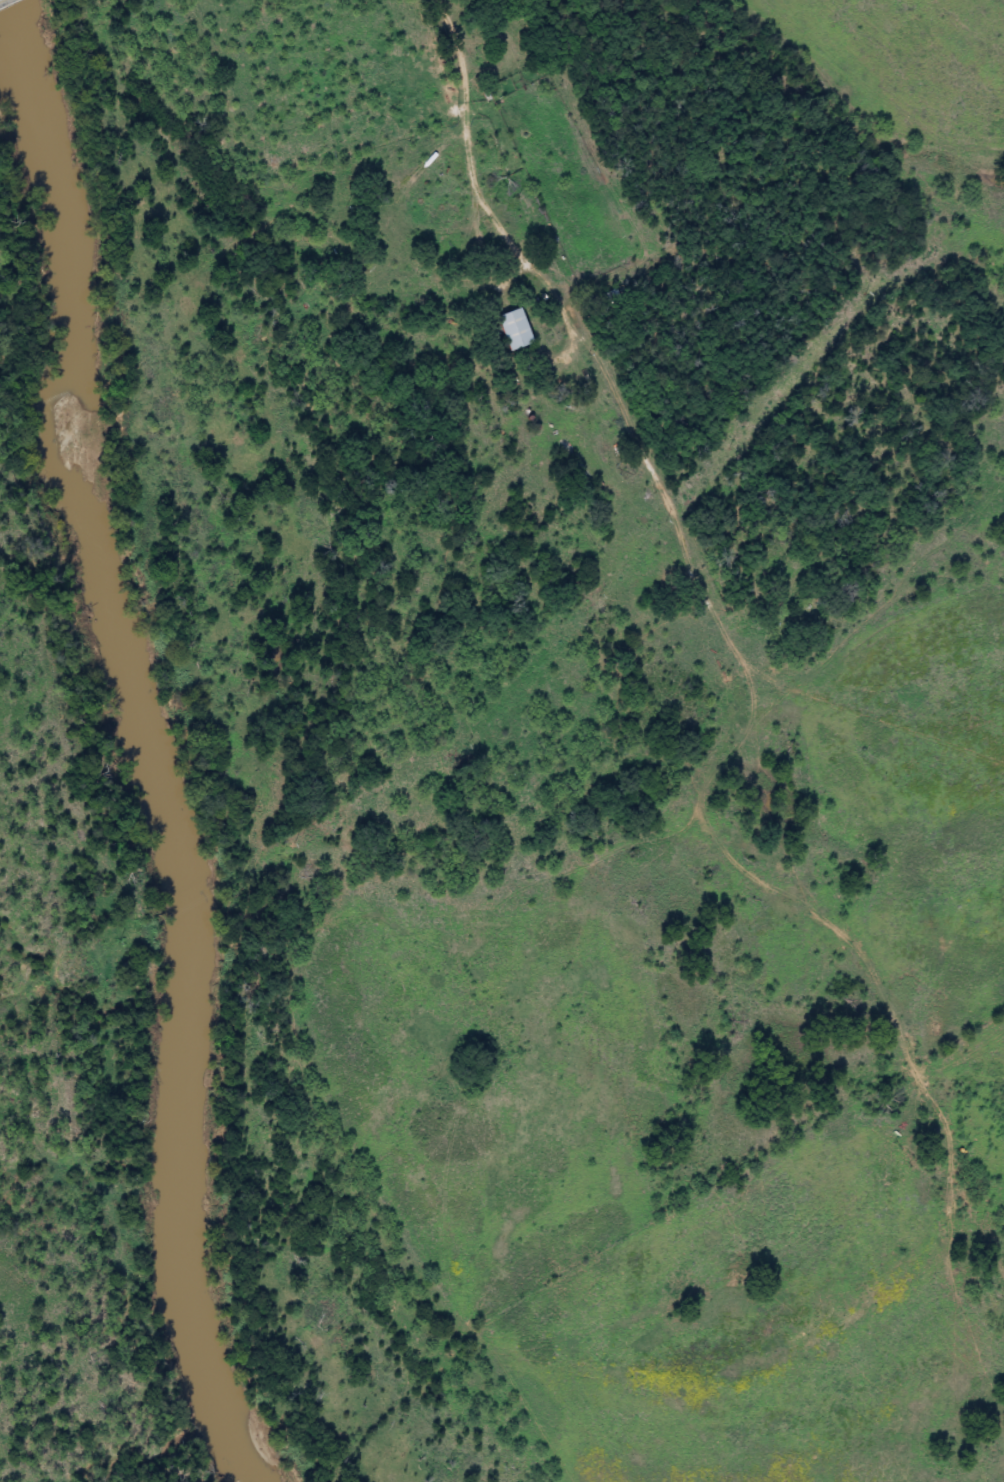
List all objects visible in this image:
road: (313, 168)
building: (511, 329)
river: (131, 741)
road: (739, 783)

